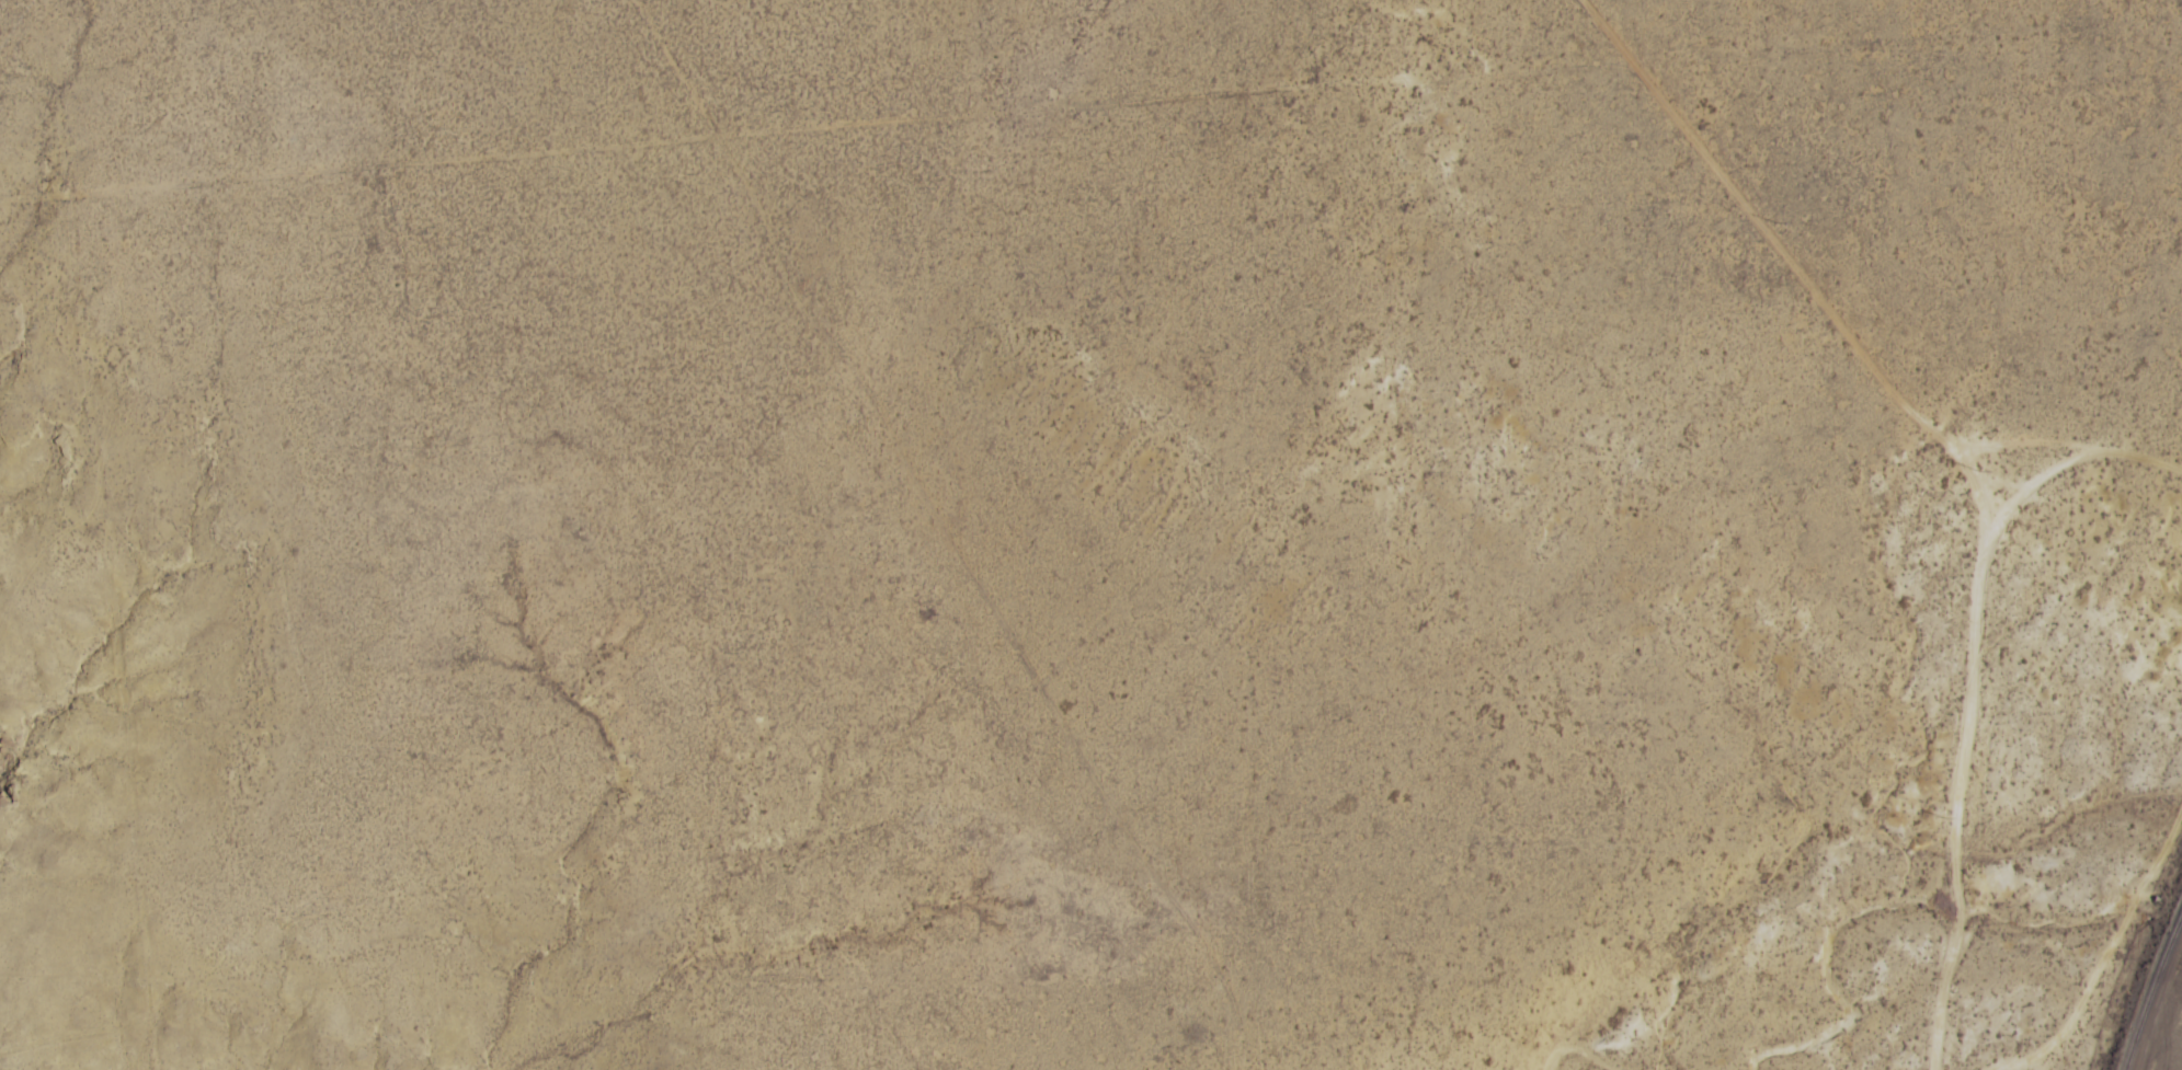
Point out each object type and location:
road: (1831, 321)
road: (1963, 764)
road: (2109, 948)
railway: (2149, 991)

